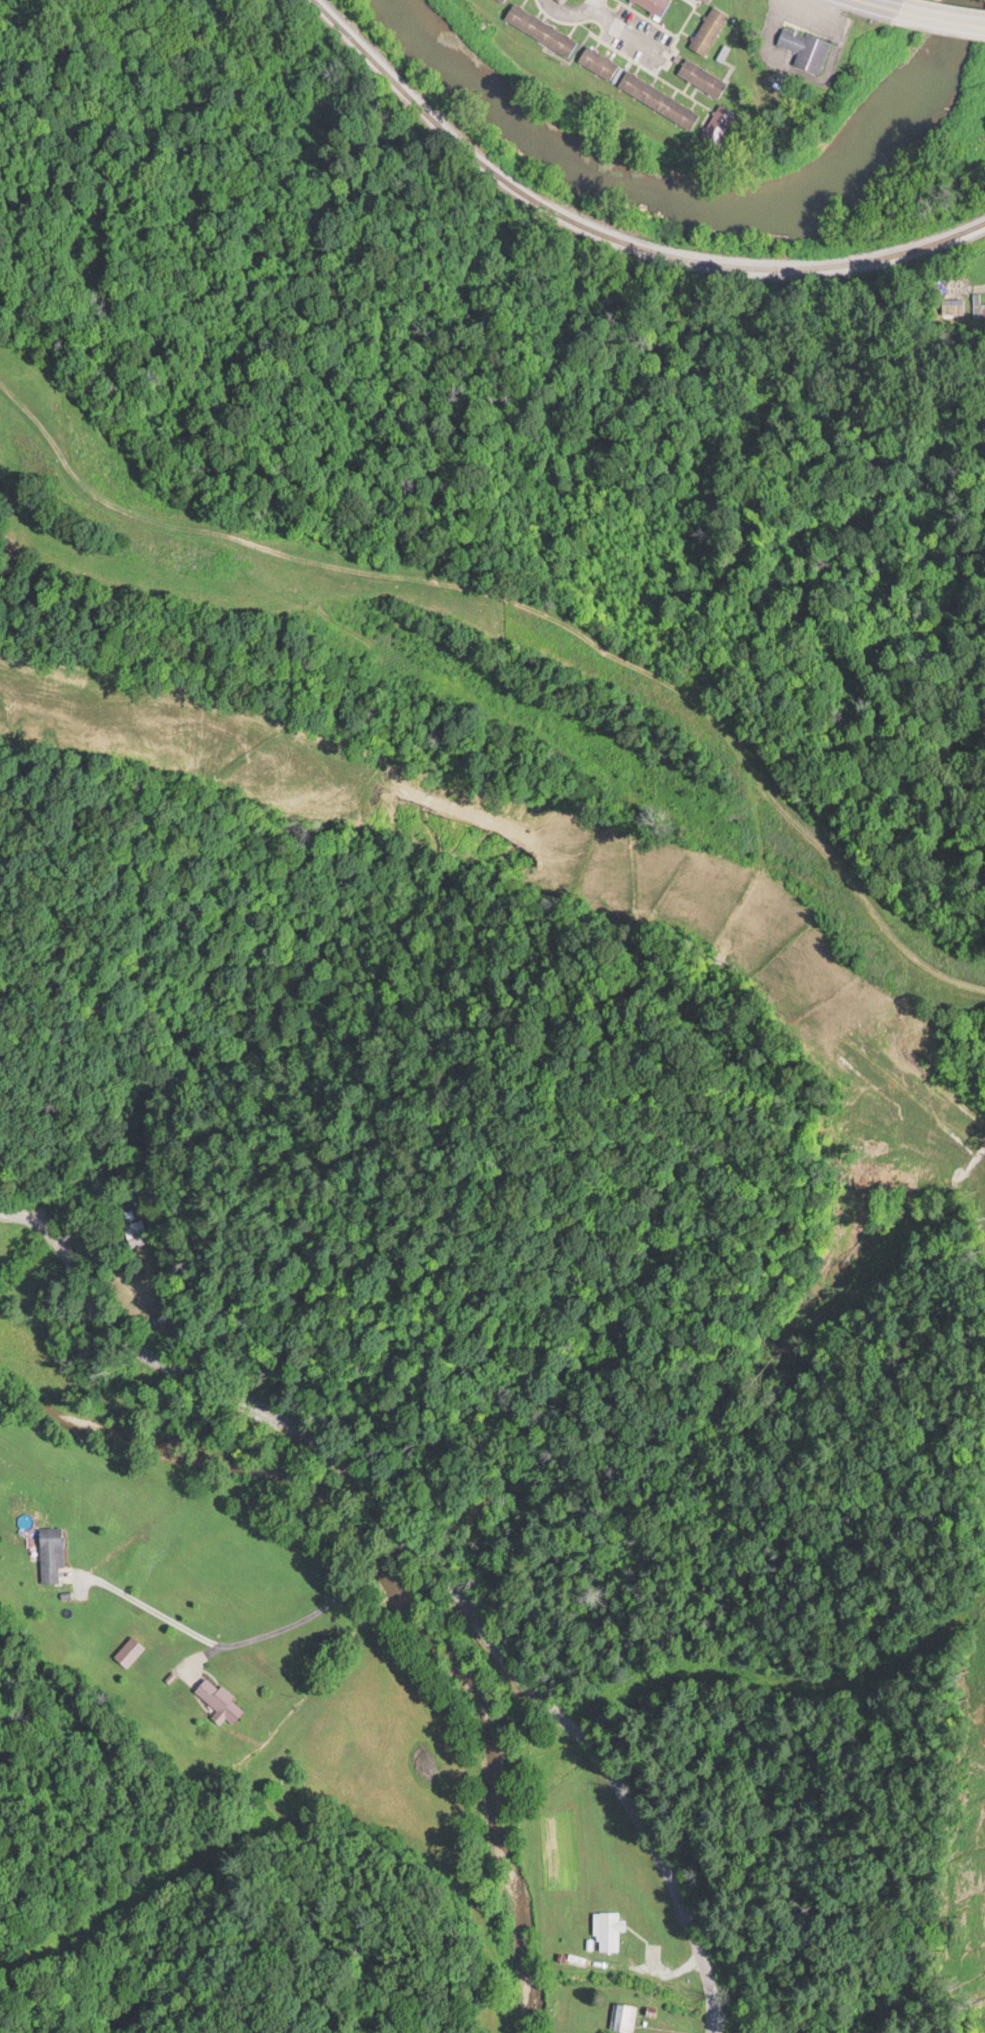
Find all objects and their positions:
building: (500, 0)
building: (704, 0)
road: (883, 4)
building: (653, 5)
road: (569, 11)
road: (941, 14)
road: (625, 25)
building: (539, 28)
building: (707, 29)
building: (803, 47)
building: (597, 61)
building: (700, 76)
building: (656, 98)
river: (697, 207)
railway: (614, 232)
road: (968, 283)
building: (981, 304)
building: (950, 305)
building: (134, 1231)
road: (431, 1549)
building: (49, 1552)
river: (402, 1600)
building: (127, 1650)
building: (218, 1698)
building: (607, 1929)
building: (622, 2016)

